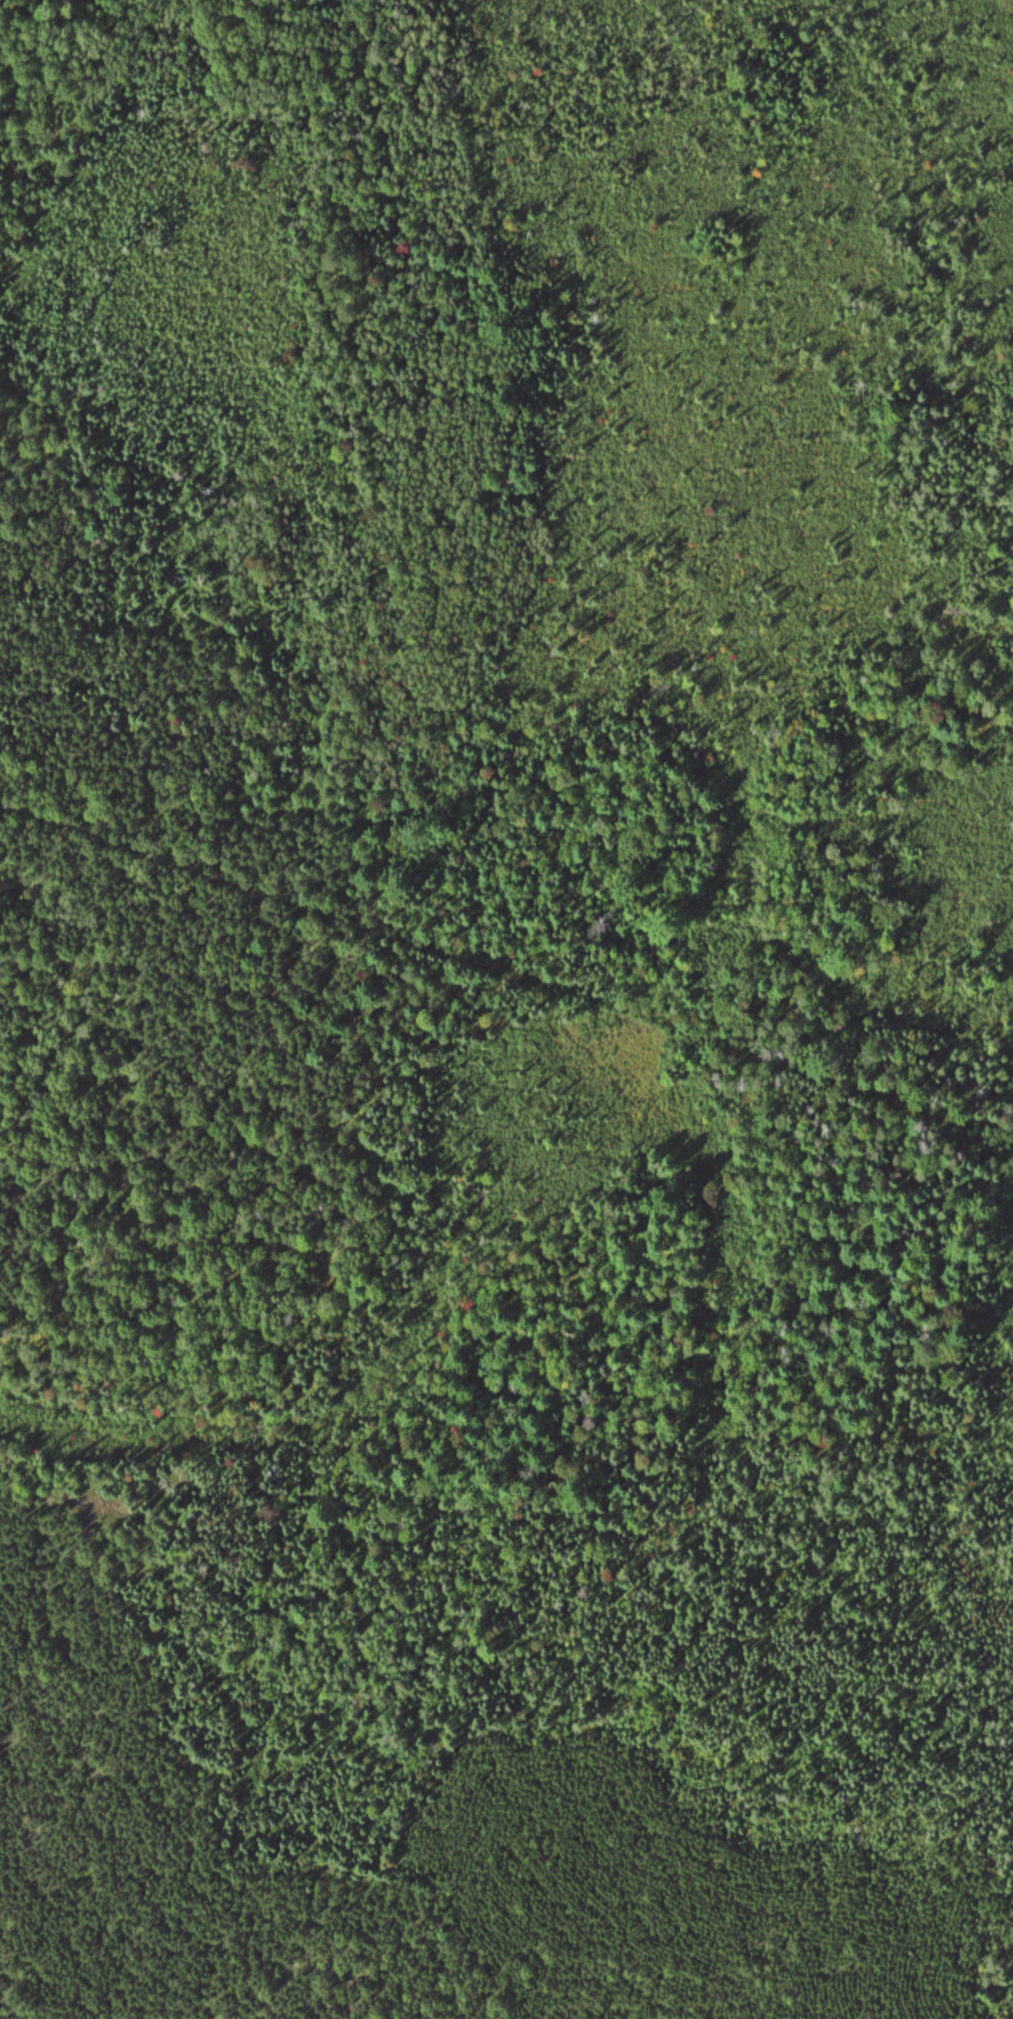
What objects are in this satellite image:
road: (471, 964)

